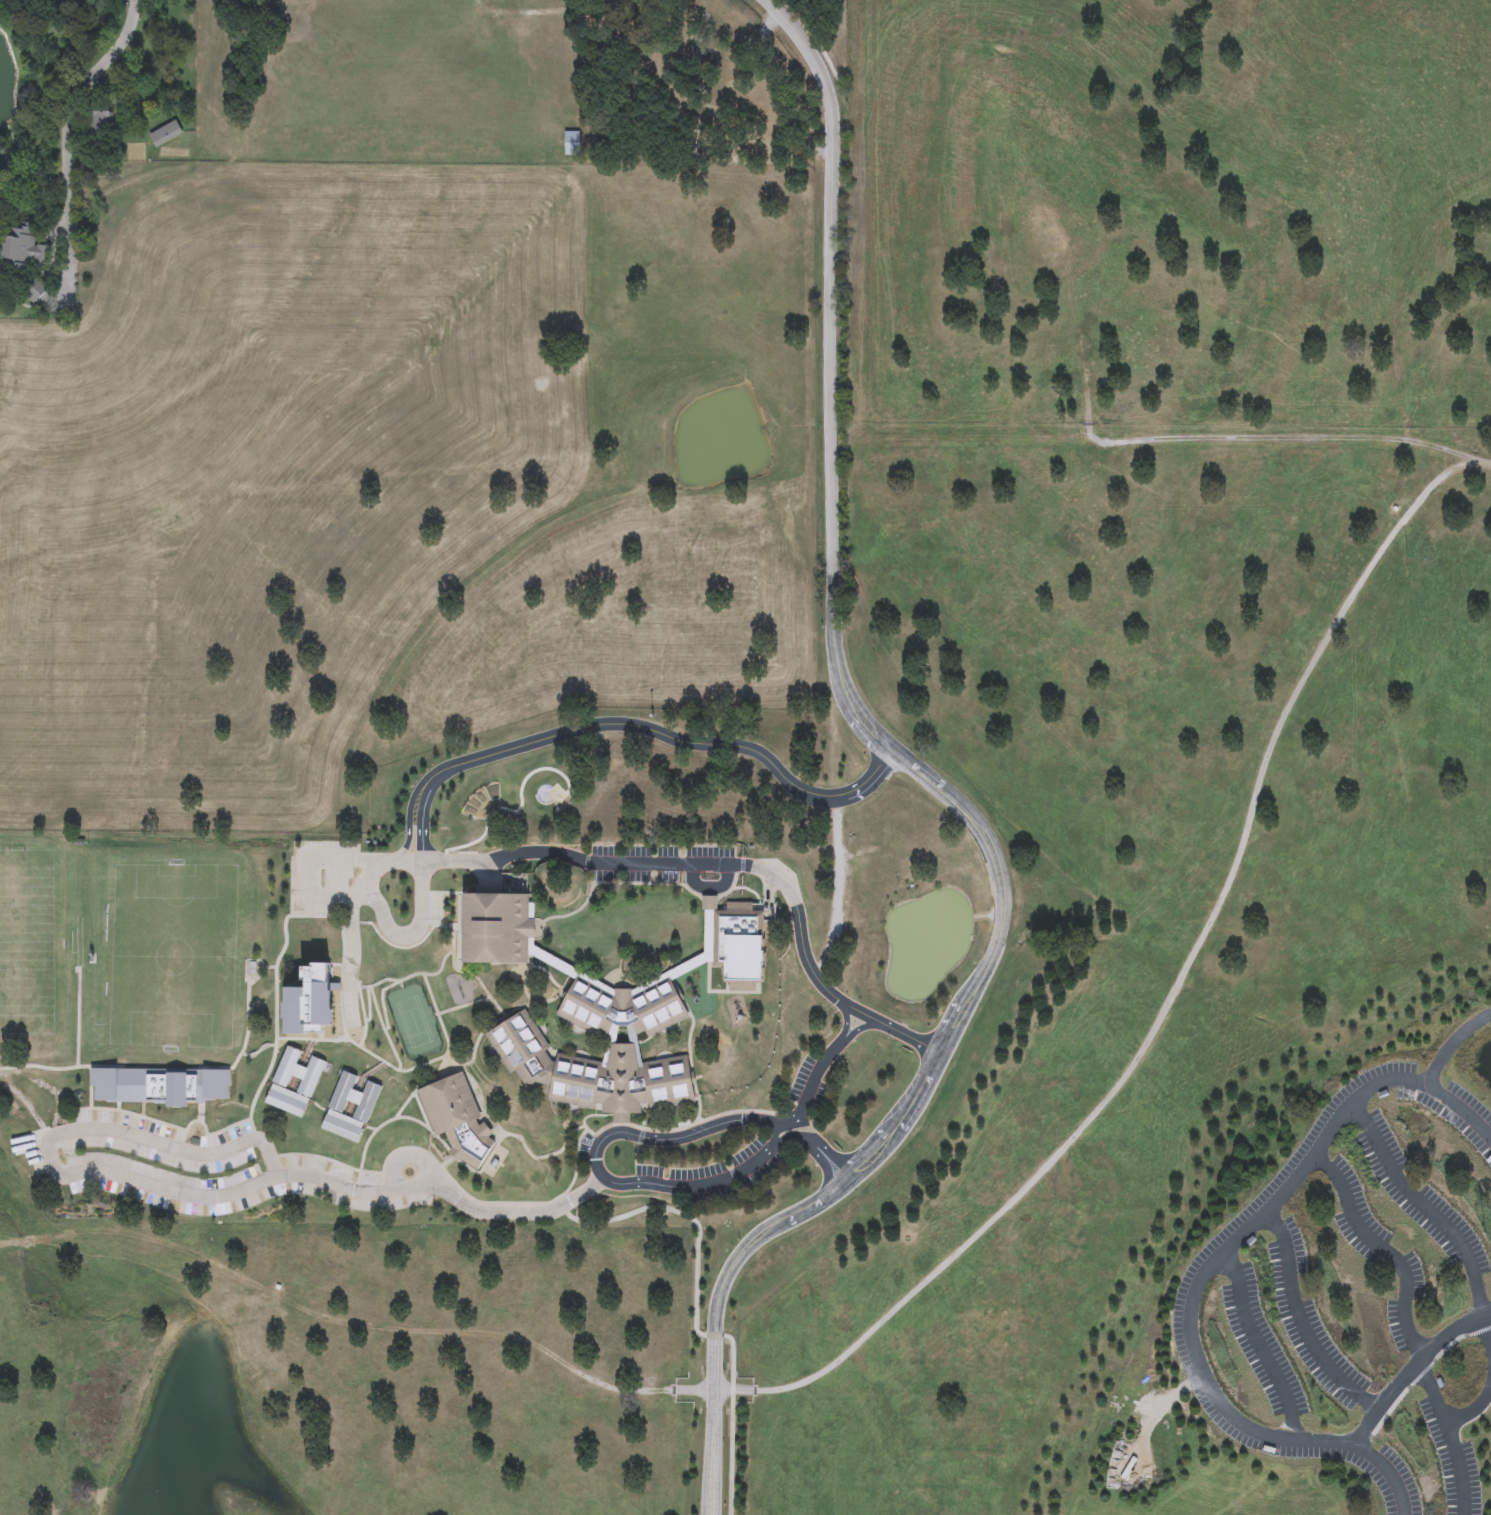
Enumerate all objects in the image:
building: (754, 103)
building: (99, 122)
building: (165, 134)
road: (55, 143)
building: (572, 143)
building: (21, 251)
building: (35, 290)
road: (835, 375)
road: (674, 740)
road: (514, 811)
road: (557, 814)
road: (421, 818)
road: (408, 821)
street lamp: (404, 836)
street lamp: (605, 845)
street lamp: (637, 846)
street lamp: (710, 846)
street lamp: (288, 851)
road: (504, 857)
road: (310, 863)
parking lot: (656, 863)
street lamp: (522, 864)
road: (657, 865)
road: (381, 870)
street lamp: (322, 871)
street lamp: (747, 876)
parking lot: (321, 877)
street lamp: (380, 885)
road: (612, 885)
street lamp: (604, 886)
street lamp: (667, 887)
road: (999, 887)
road: (709, 889)
road: (730, 890)
road: (748, 891)
road: (462, 894)
building: (854, 895)
street lamp: (411, 906)
parking lot: (435, 906)
street lamp: (566, 913)
street lamp: (785, 914)
road: (798, 919)
road: (541, 920)
road: (460, 924)
building: (497, 926)
road: (528, 930)
road: (532, 930)
building: (708, 932)
road: (410, 934)
park: (27, 942)
building: (738, 946)
road: (397, 948)
park: (167, 952)
road: (342, 952)
road: (350, 963)
road: (491, 965)
road: (335, 966)
building: (564, 968)
road: (471, 969)
street lamp: (799, 973)
road: (547, 975)
road: (476, 979)
fountain: (623, 979)
road: (398, 981)
road: (400, 985)
road: (638, 986)
road: (643, 987)
road: (1170, 987)
road: (726, 988)
road: (721, 992)
road: (563, 993)
road: (527, 996)
road: (678, 996)
road: (622, 999)
building: (310, 1000)
road: (276, 1001)
road: (381, 1001)
road: (368, 1005)
street lamp: (825, 1005)
road: (461, 1007)
building: (621, 1008)
road: (437, 1016)
road: (864, 1016)
road: (364, 1017)
road: (77, 1019)
road: (845, 1019)
road: (502, 1021)
park: (413, 1022)
road: (247, 1025)
road: (865, 1028)
road: (383, 1029)
road: (536, 1034)
street lamp: (888, 1038)
road: (311, 1039)
road: (914, 1040)
road: (644, 1041)
road: (476, 1043)
building: (609, 1043)
road: (618, 1043)
road: (625, 1043)
building: (633, 1043)
road: (621, 1044)
road: (1453, 1044)
road: (635, 1045)
road: (607, 1046)
road: (689, 1046)
street lamp: (846, 1051)
road: (545, 1053)
road: (370, 1054)
road: (576, 1059)
road: (447, 1062)
road: (457, 1063)
road: (300, 1066)
road: (124, 1067)
road: (45, 1068)
road: (448, 1072)
building: (592, 1074)
road: (691, 1079)
road: (812, 1082)
building: (160, 1086)
road: (359, 1086)
parking lot: (808, 1086)
building: (306, 1087)
road: (314, 1104)
road: (648, 1104)
road: (403, 1106)
road: (118, 1107)
building: (350, 1108)
street lamp: (744, 1108)
road: (142, 1110)
road: (201, 1114)
road: (133, 1115)
street lamp: (408, 1116)
road: (481, 1116)
street lamp: (707, 1116)
building: (456, 1119)
road: (196, 1122)
road: (780, 1123)
road: (894, 1123)
flagpole: (566, 1125)
road: (380, 1126)
road: (490, 1126)
street lamp: (651, 1127)
road: (226, 1129)
road: (370, 1129)
road: (661, 1131)
road: (621, 1132)
road: (775, 1133)
road: (513, 1136)
road: (640, 1136)
road: (439, 1140)
road: (668, 1140)
road: (494, 1143)
street lamp: (828, 1143)
street lamp: (411, 1145)
road: (774, 1148)
street lamp: (791, 1148)
parking lot: (584, 1150)
road: (816, 1151)
road: (635, 1155)
road: (319, 1158)
road: (410, 1158)
road: (449, 1160)
street lamp: (259, 1162)
street lamp: (696, 1165)
parking lot: (195, 1169)
street lamp: (363, 1170)
street lamp: (615, 1174)
parking lot: (722, 1174)
road: (574, 1175)
road: (213, 1176)
road: (733, 1177)
road: (450, 1179)
road: (688, 1188)
street lamp: (106, 1195)
street lamp: (657, 1195)
road: (192, 1196)
street lamp: (302, 1197)
street lamp: (597, 1197)
street lamp: (432, 1198)
street lamp: (173, 1206)
street lamp: (351, 1211)
street lamp: (393, 1212)
street lamp: (221, 1218)
road: (1440, 1220)
street lamp: (473, 1221)
road: (1240, 1236)
road: (1384, 1251)
road: (696, 1253)
parking lot: (1218, 1290)
road: (714, 1320)
road: (1301, 1321)
road: (1259, 1347)
road: (1413, 1369)
road: (1422, 1373)
road: (1475, 1407)
road: (1449, 1437)
road: (731, 1454)
parking lot: (1452, 1459)
road: (1389, 1473)

